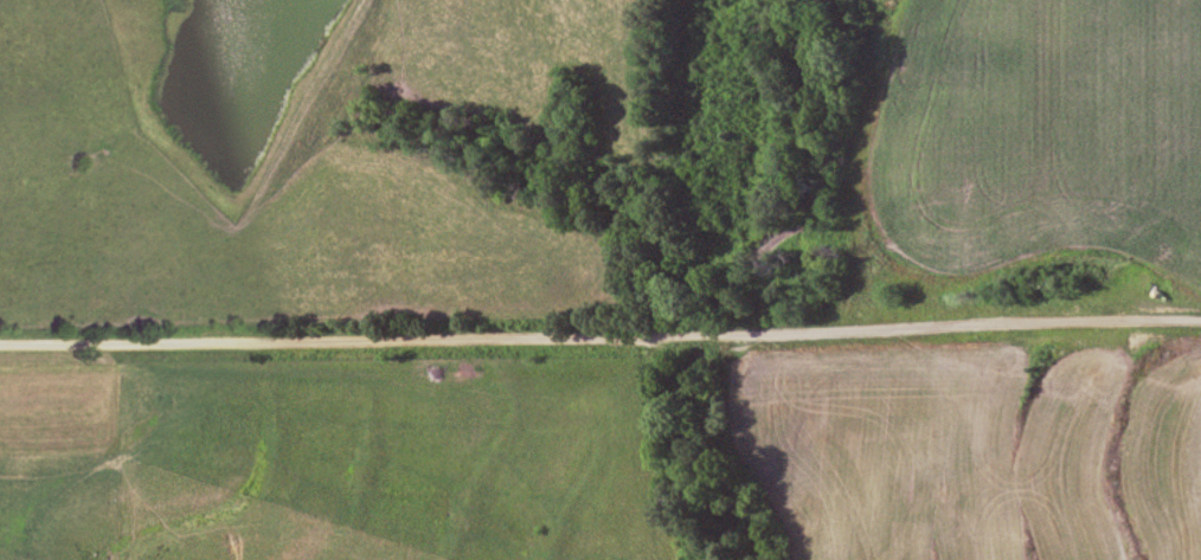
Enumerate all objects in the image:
road: (600, 334)

